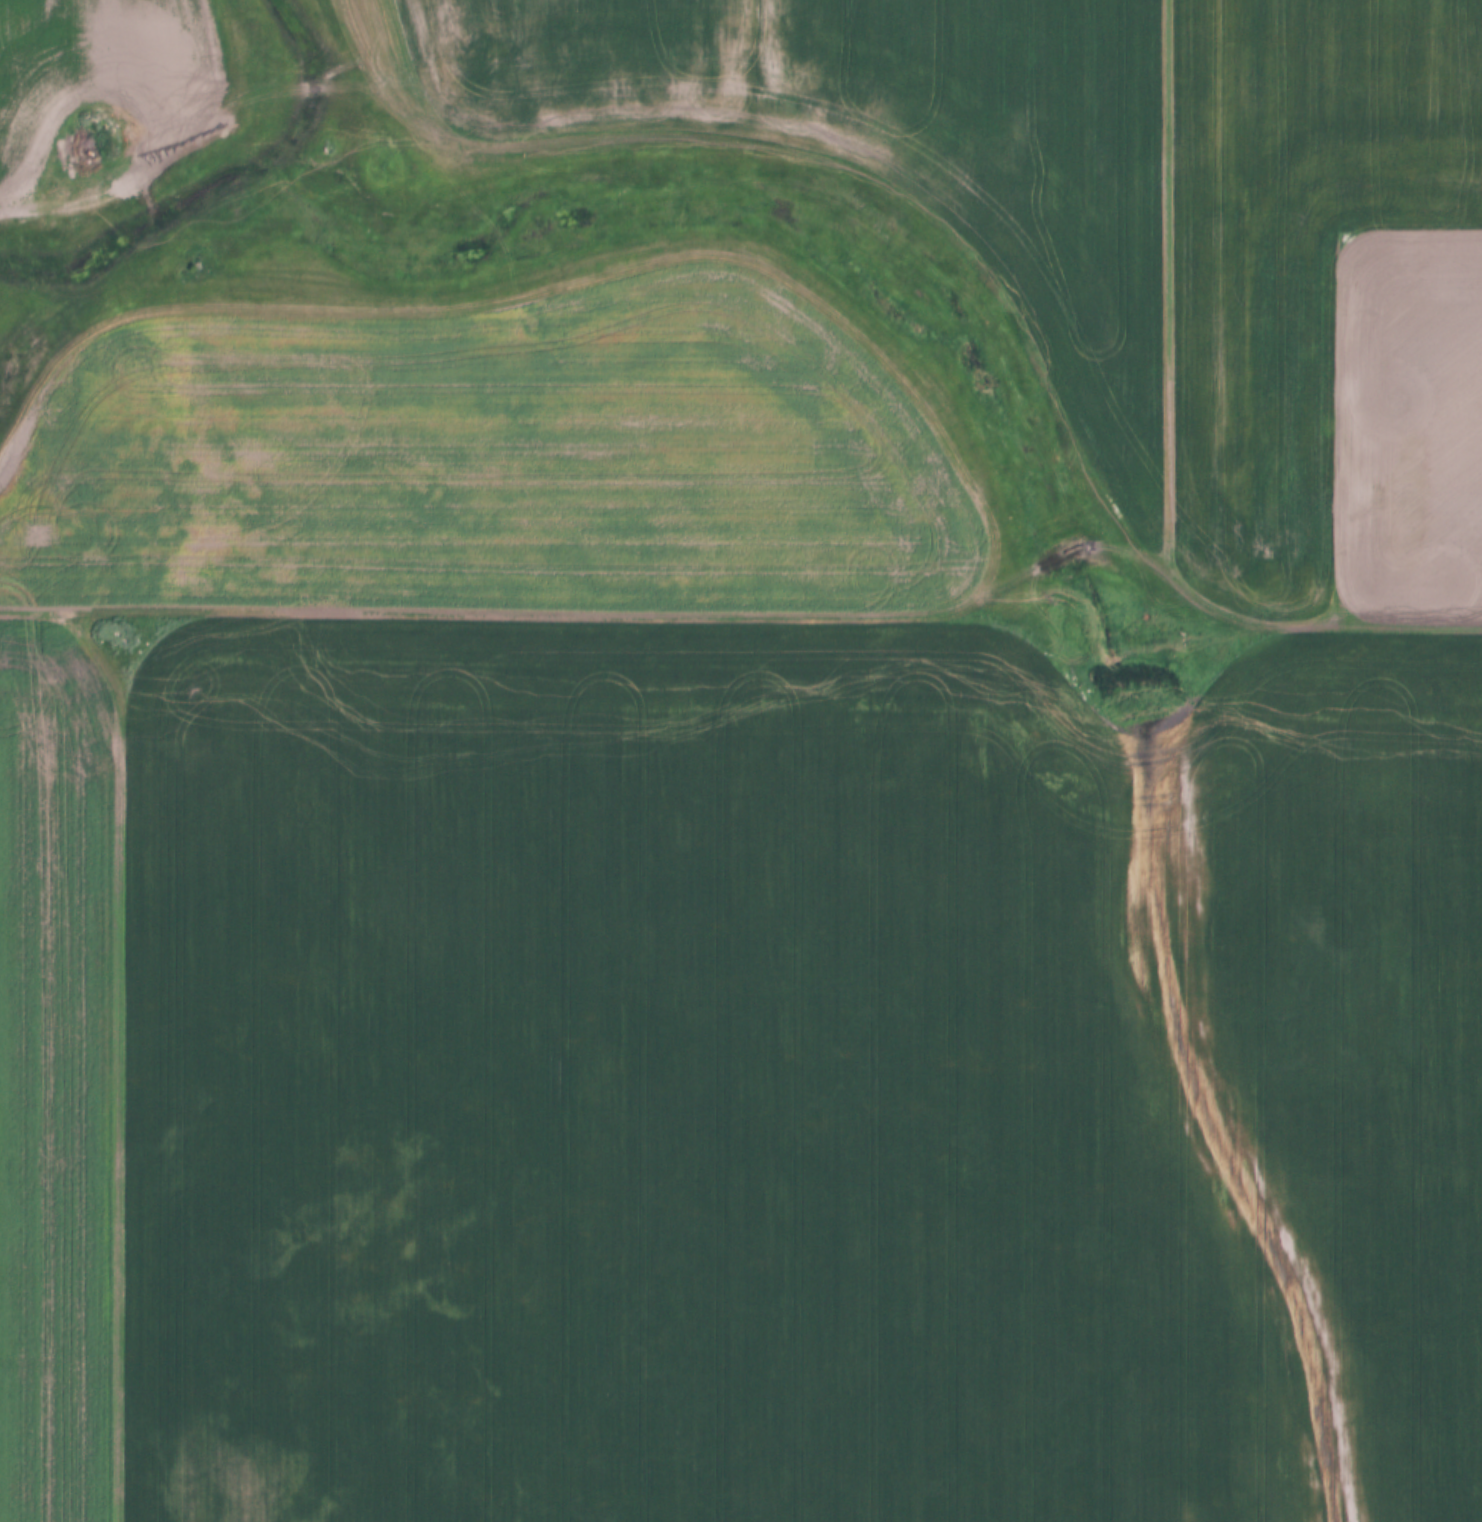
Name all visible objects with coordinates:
road: (40, 212)
road: (1201, 593)

